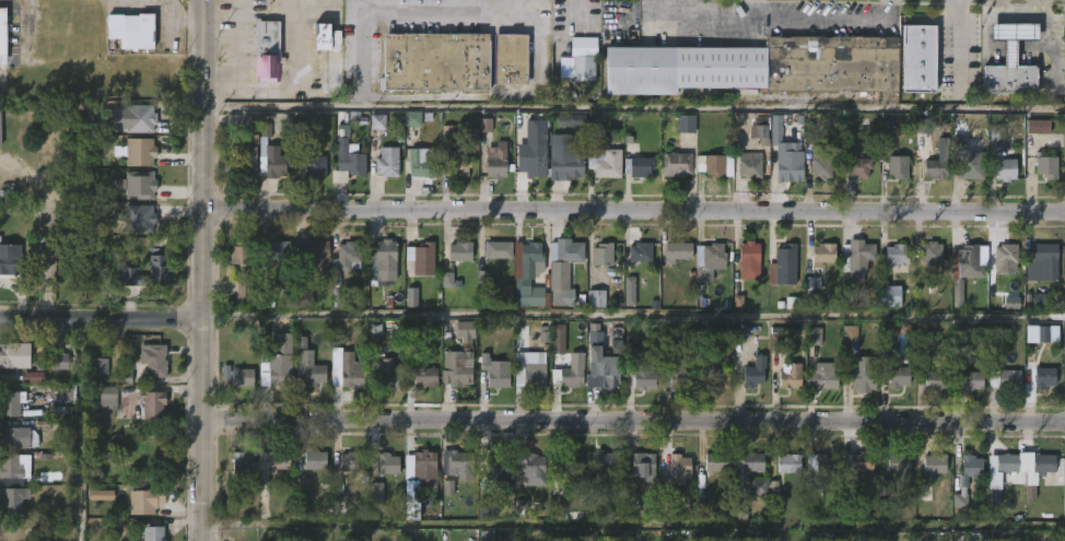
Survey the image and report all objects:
road: (460, 8)
road: (445, 15)
road: (709, 19)
road: (819, 20)
building: (138, 34)
building: (323, 36)
road: (295, 39)
road: (367, 47)
building: (2, 50)
building: (267, 51)
road: (238, 54)
building: (923, 57)
building: (513, 58)
building: (583, 58)
building: (1007, 59)
building: (437, 60)
building: (758, 66)
road: (261, 91)
building: (139, 118)
building: (412, 119)
building: (377, 121)
building: (563, 121)
building: (237, 124)
building: (687, 124)
building: (485, 125)
building: (924, 126)
building: (1038, 127)
building: (0, 129)
building: (760, 133)
building: (996, 137)
building: (885, 142)
building: (138, 151)
building: (270, 155)
building: (601, 156)
building: (387, 162)
building: (532, 162)
building: (241, 163)
building: (437, 164)
building: (495, 164)
building: (792, 164)
building: (821, 164)
building: (971, 164)
building: (348, 165)
building: (677, 165)
building: (715, 165)
building: (313, 166)
building: (637, 166)
building: (898, 166)
building: (566, 167)
building: (859, 167)
building: (1048, 167)
building: (750, 168)
building: (1006, 168)
building: (936, 169)
building: (138, 185)
road: (635, 210)
building: (139, 217)
building: (277, 250)
building: (498, 250)
building: (460, 251)
building: (678, 251)
building: (640, 252)
building: (933, 252)
building: (602, 254)
building: (315, 255)
building: (565, 255)
building: (820, 255)
building: (897, 255)
building: (383, 256)
building: (348, 257)
building: (10, 258)
building: (1007, 258)
building: (419, 260)
building: (749, 260)
building: (858, 260)
building: (1045, 260)
building: (710, 261)
building: (243, 267)
building: (524, 267)
building: (783, 267)
building: (965, 267)
building: (160, 270)
road: (207, 270)
building: (447, 280)
building: (629, 291)
building: (304, 293)
building: (889, 296)
building: (339, 297)
building: (411, 297)
building: (596, 298)
building: (1041, 301)
building: (1011, 303)
road: (104, 321)
building: (465, 332)
building: (851, 333)
building: (1043, 333)
building: (543, 334)
building: (814, 337)
building: (558, 339)
building: (777, 341)
building: (10, 355)
building: (153, 358)
building: (59, 362)
building: (276, 362)
building: (100, 366)
building: (458, 367)
building: (606, 367)
building: (311, 368)
building: (126, 371)
building: (352, 372)
building: (494, 372)
building: (640, 373)
building: (754, 373)
building: (535, 375)
building: (676, 375)
building: (717, 376)
building: (898, 376)
building: (32, 377)
building: (426, 377)
building: (572, 377)
building: (242, 378)
building: (387, 378)
building: (791, 378)
building: (862, 378)
building: (1044, 378)
building: (1006, 379)
building: (821, 380)
building: (935, 380)
building: (973, 380)
building: (108, 398)
building: (10, 402)
building: (151, 402)
road: (635, 422)
building: (19, 436)
building: (314, 458)
building: (424, 458)
building: (351, 460)
building: (570, 460)
building: (715, 460)
building: (753, 460)
building: (899, 460)
building: (605, 461)
building: (864, 461)
building: (1043, 461)
building: (242, 462)
building: (387, 462)
building: (1007, 462)
building: (457, 463)
building: (498, 463)
building: (791, 463)
building: (820, 463)
building: (934, 464)
building: (9, 466)
building: (270, 466)
building: (643, 466)
building: (530, 468)
building: (971, 468)
building: (674, 481)
building: (304, 485)
building: (447, 487)
building: (759, 487)
building: (773, 489)
building: (337, 491)
building: (375, 493)
building: (231, 494)
building: (102, 495)
building: (994, 497)
building: (11, 498)
building: (145, 499)
building: (960, 501)
building: (740, 508)
building: (152, 532)
building: (978, 537)

